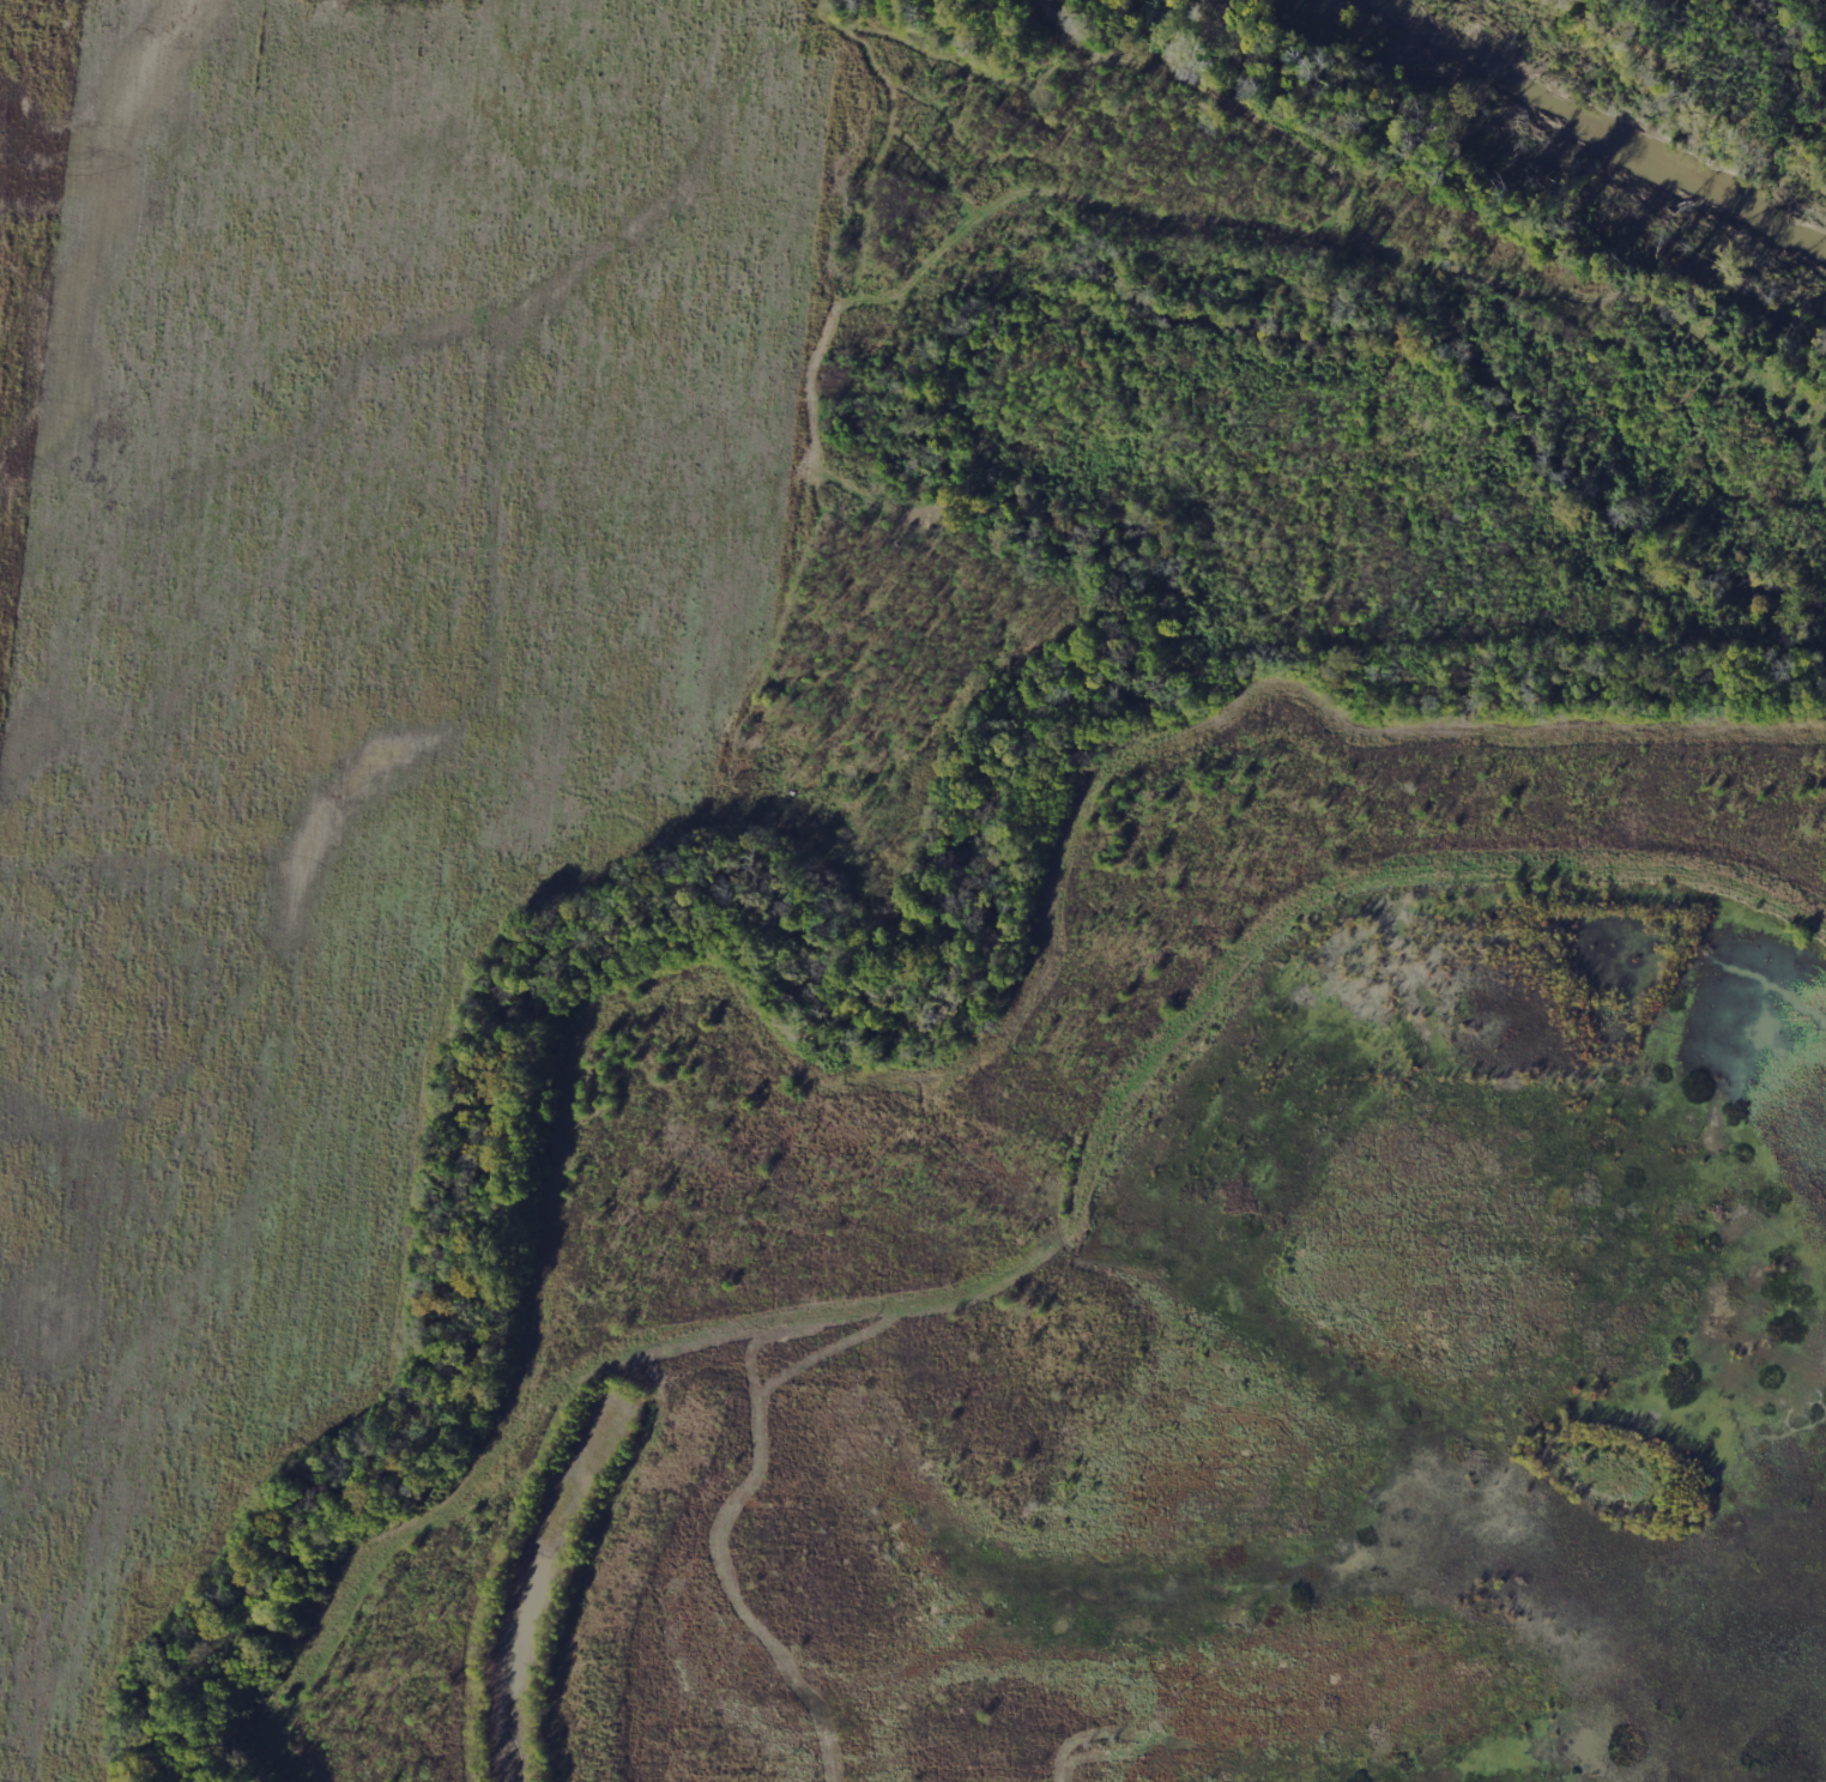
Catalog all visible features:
river: (1591, 131)

